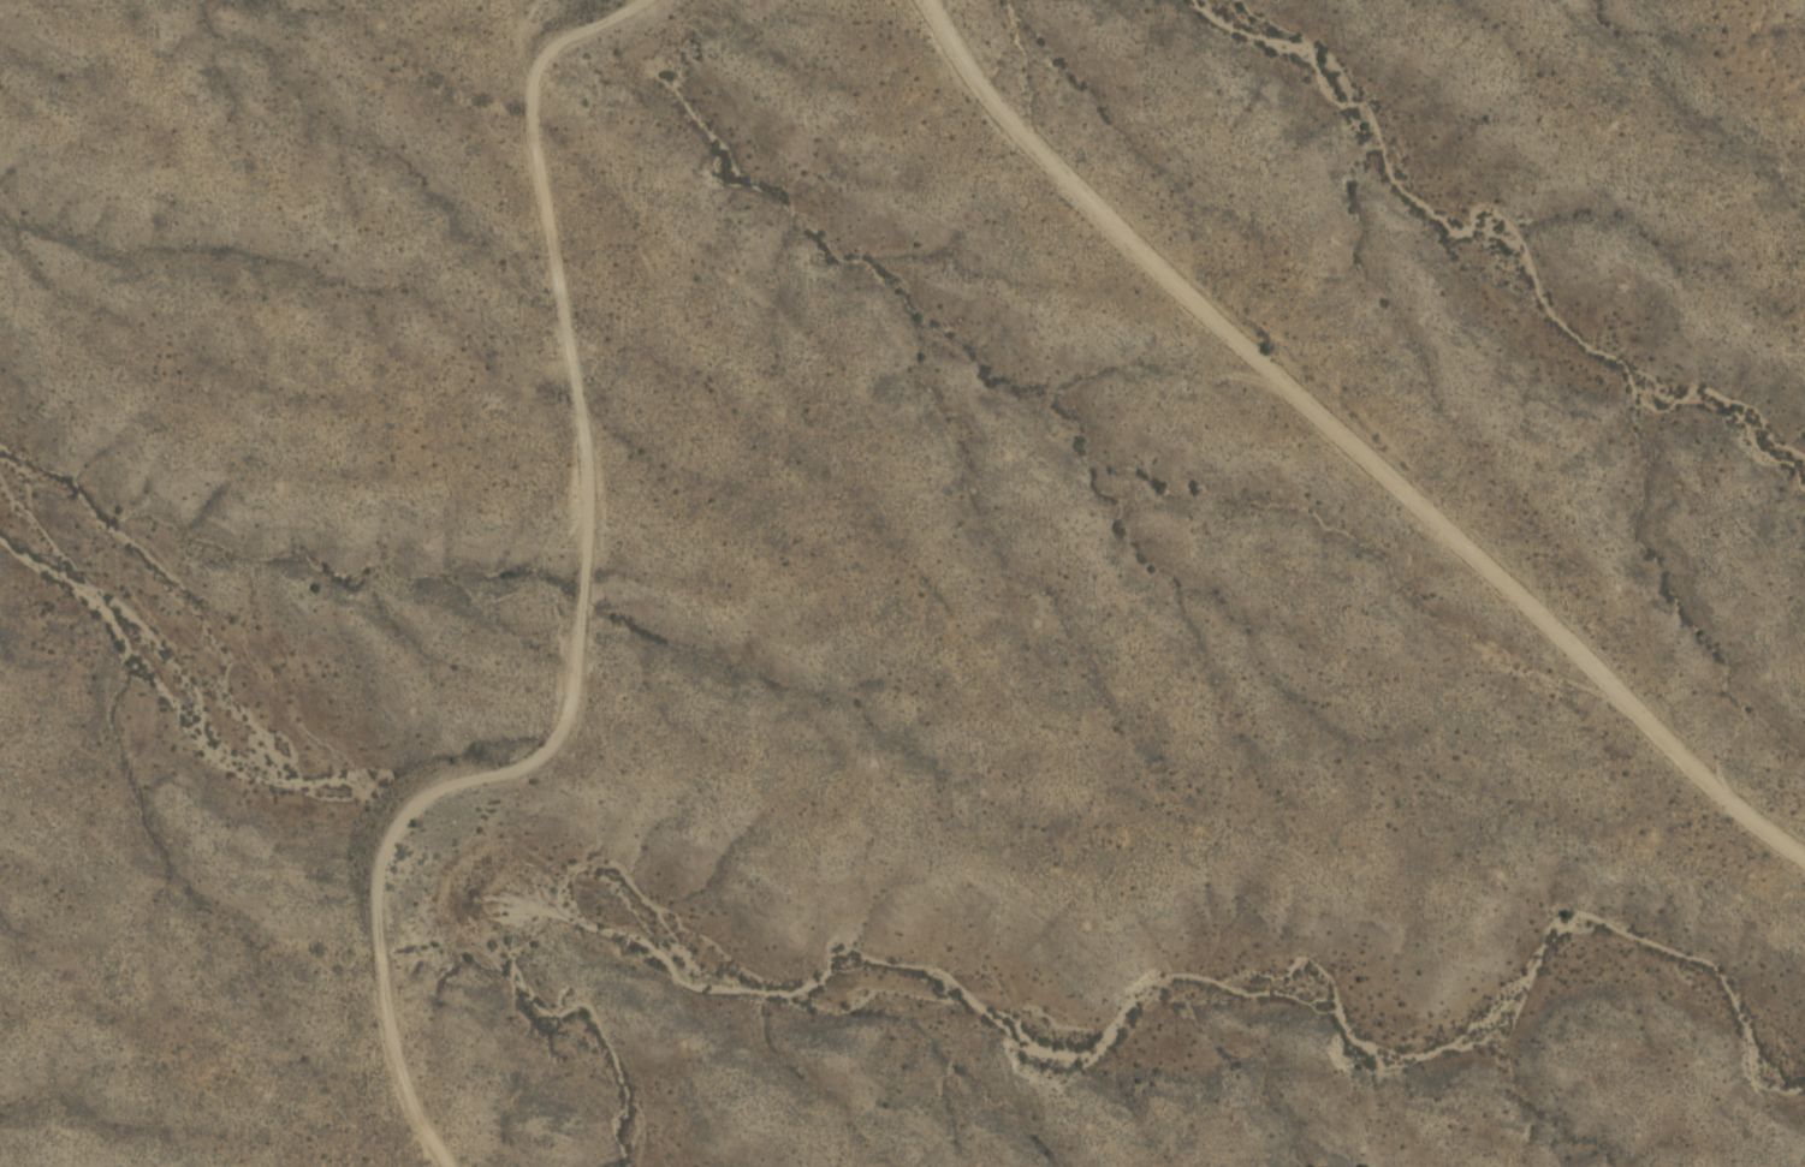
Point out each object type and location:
road: (1340, 439)
road: (576, 614)

